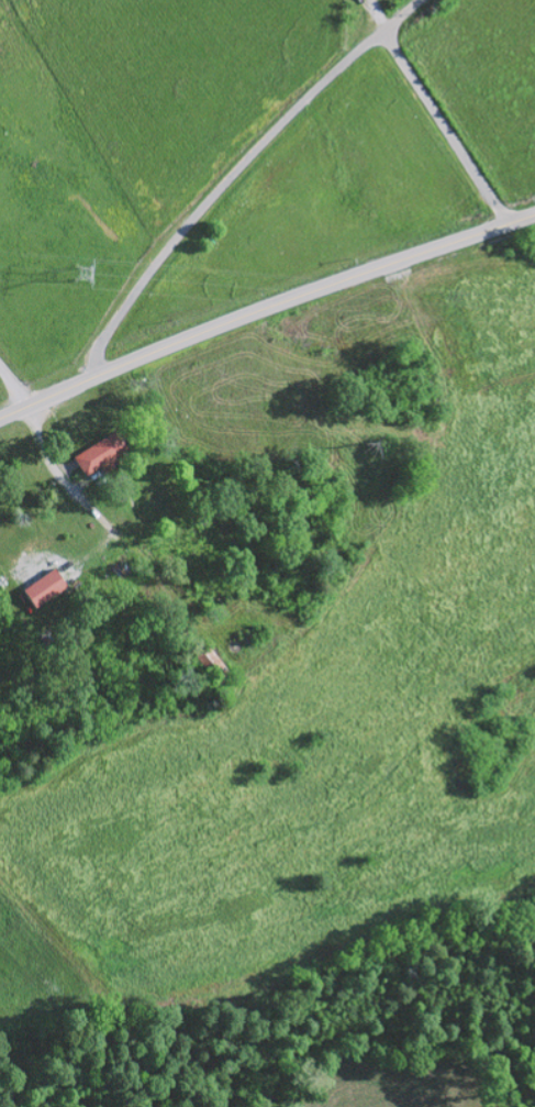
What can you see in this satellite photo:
road: (404, 12)
road: (446, 125)
road: (221, 189)
power tower: (85, 278)
road: (264, 310)
building: (103, 453)
building: (47, 588)

